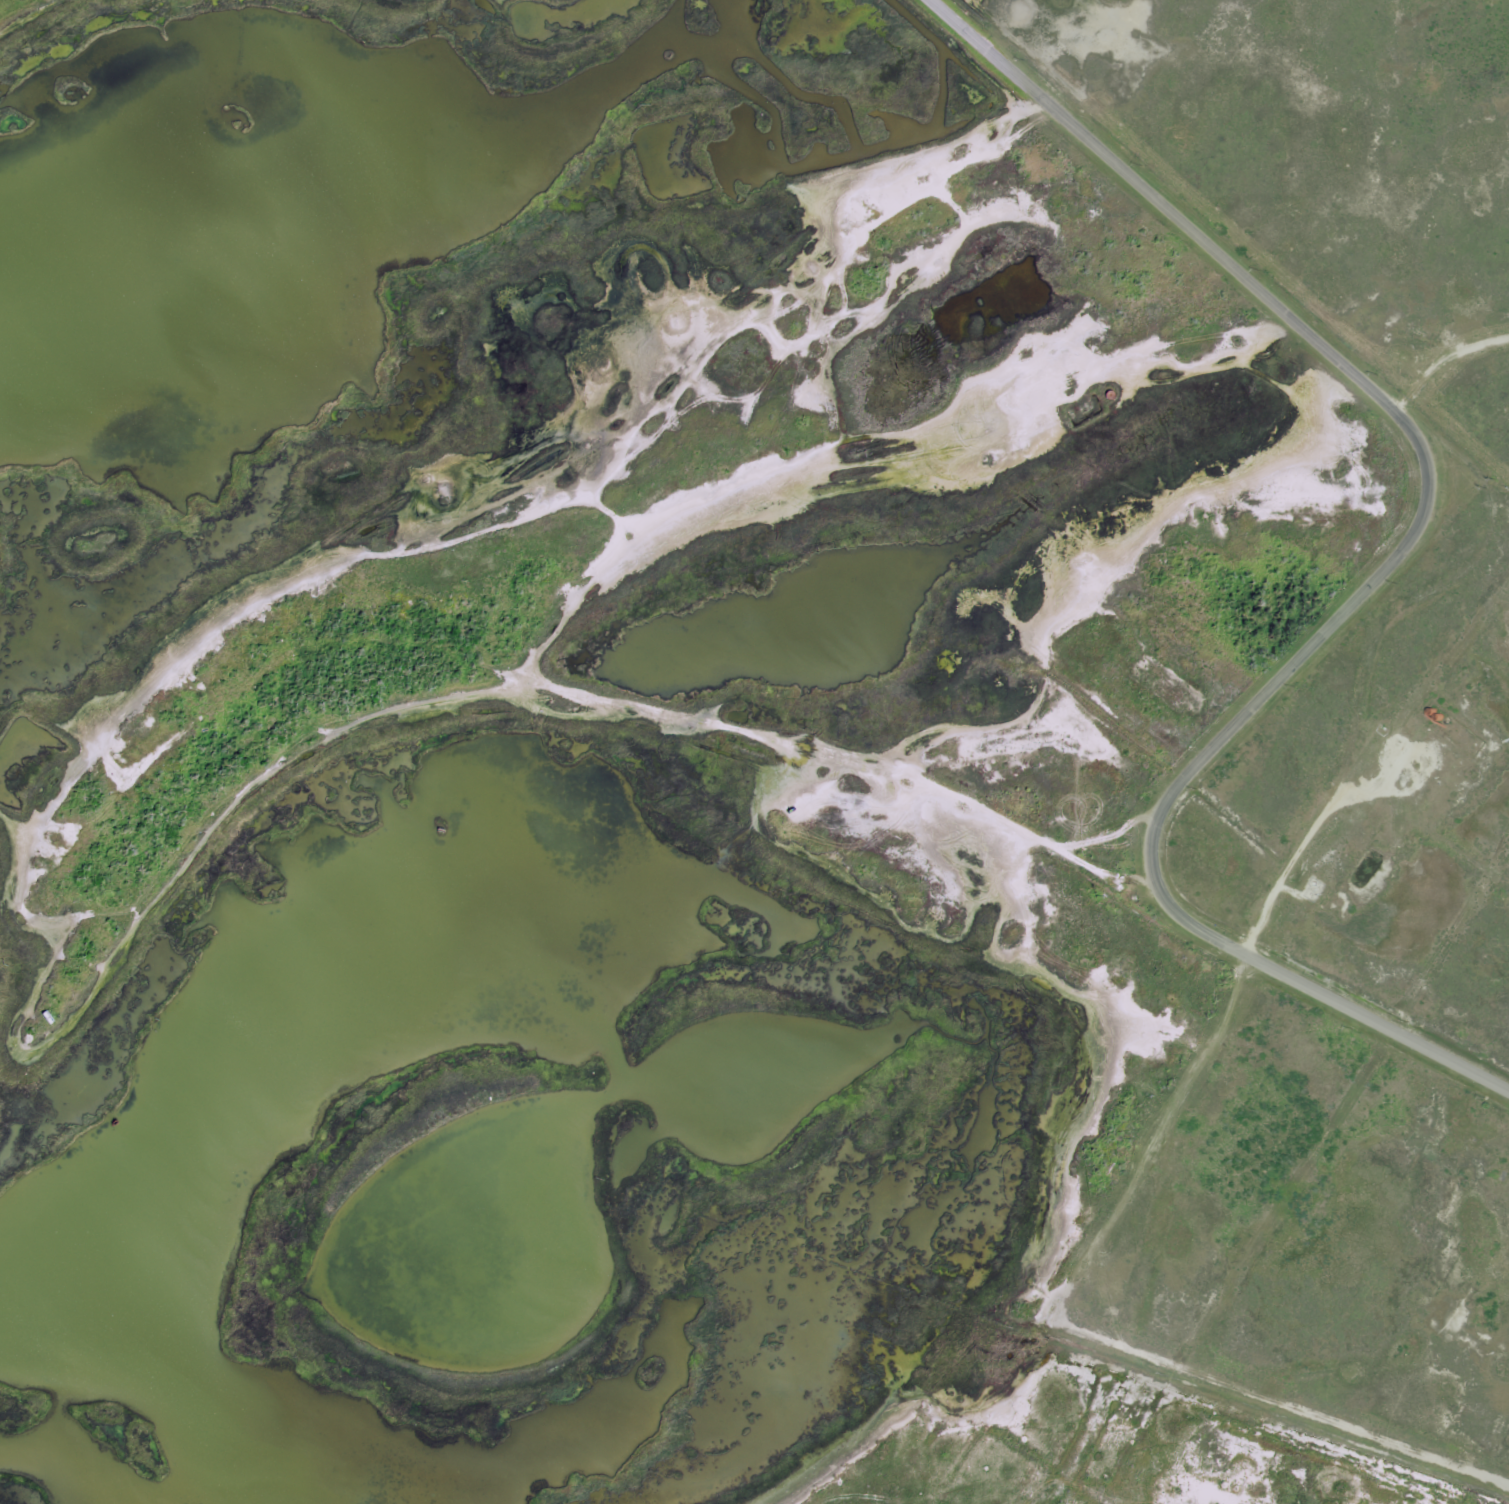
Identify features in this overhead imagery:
road: (1373, 578)

